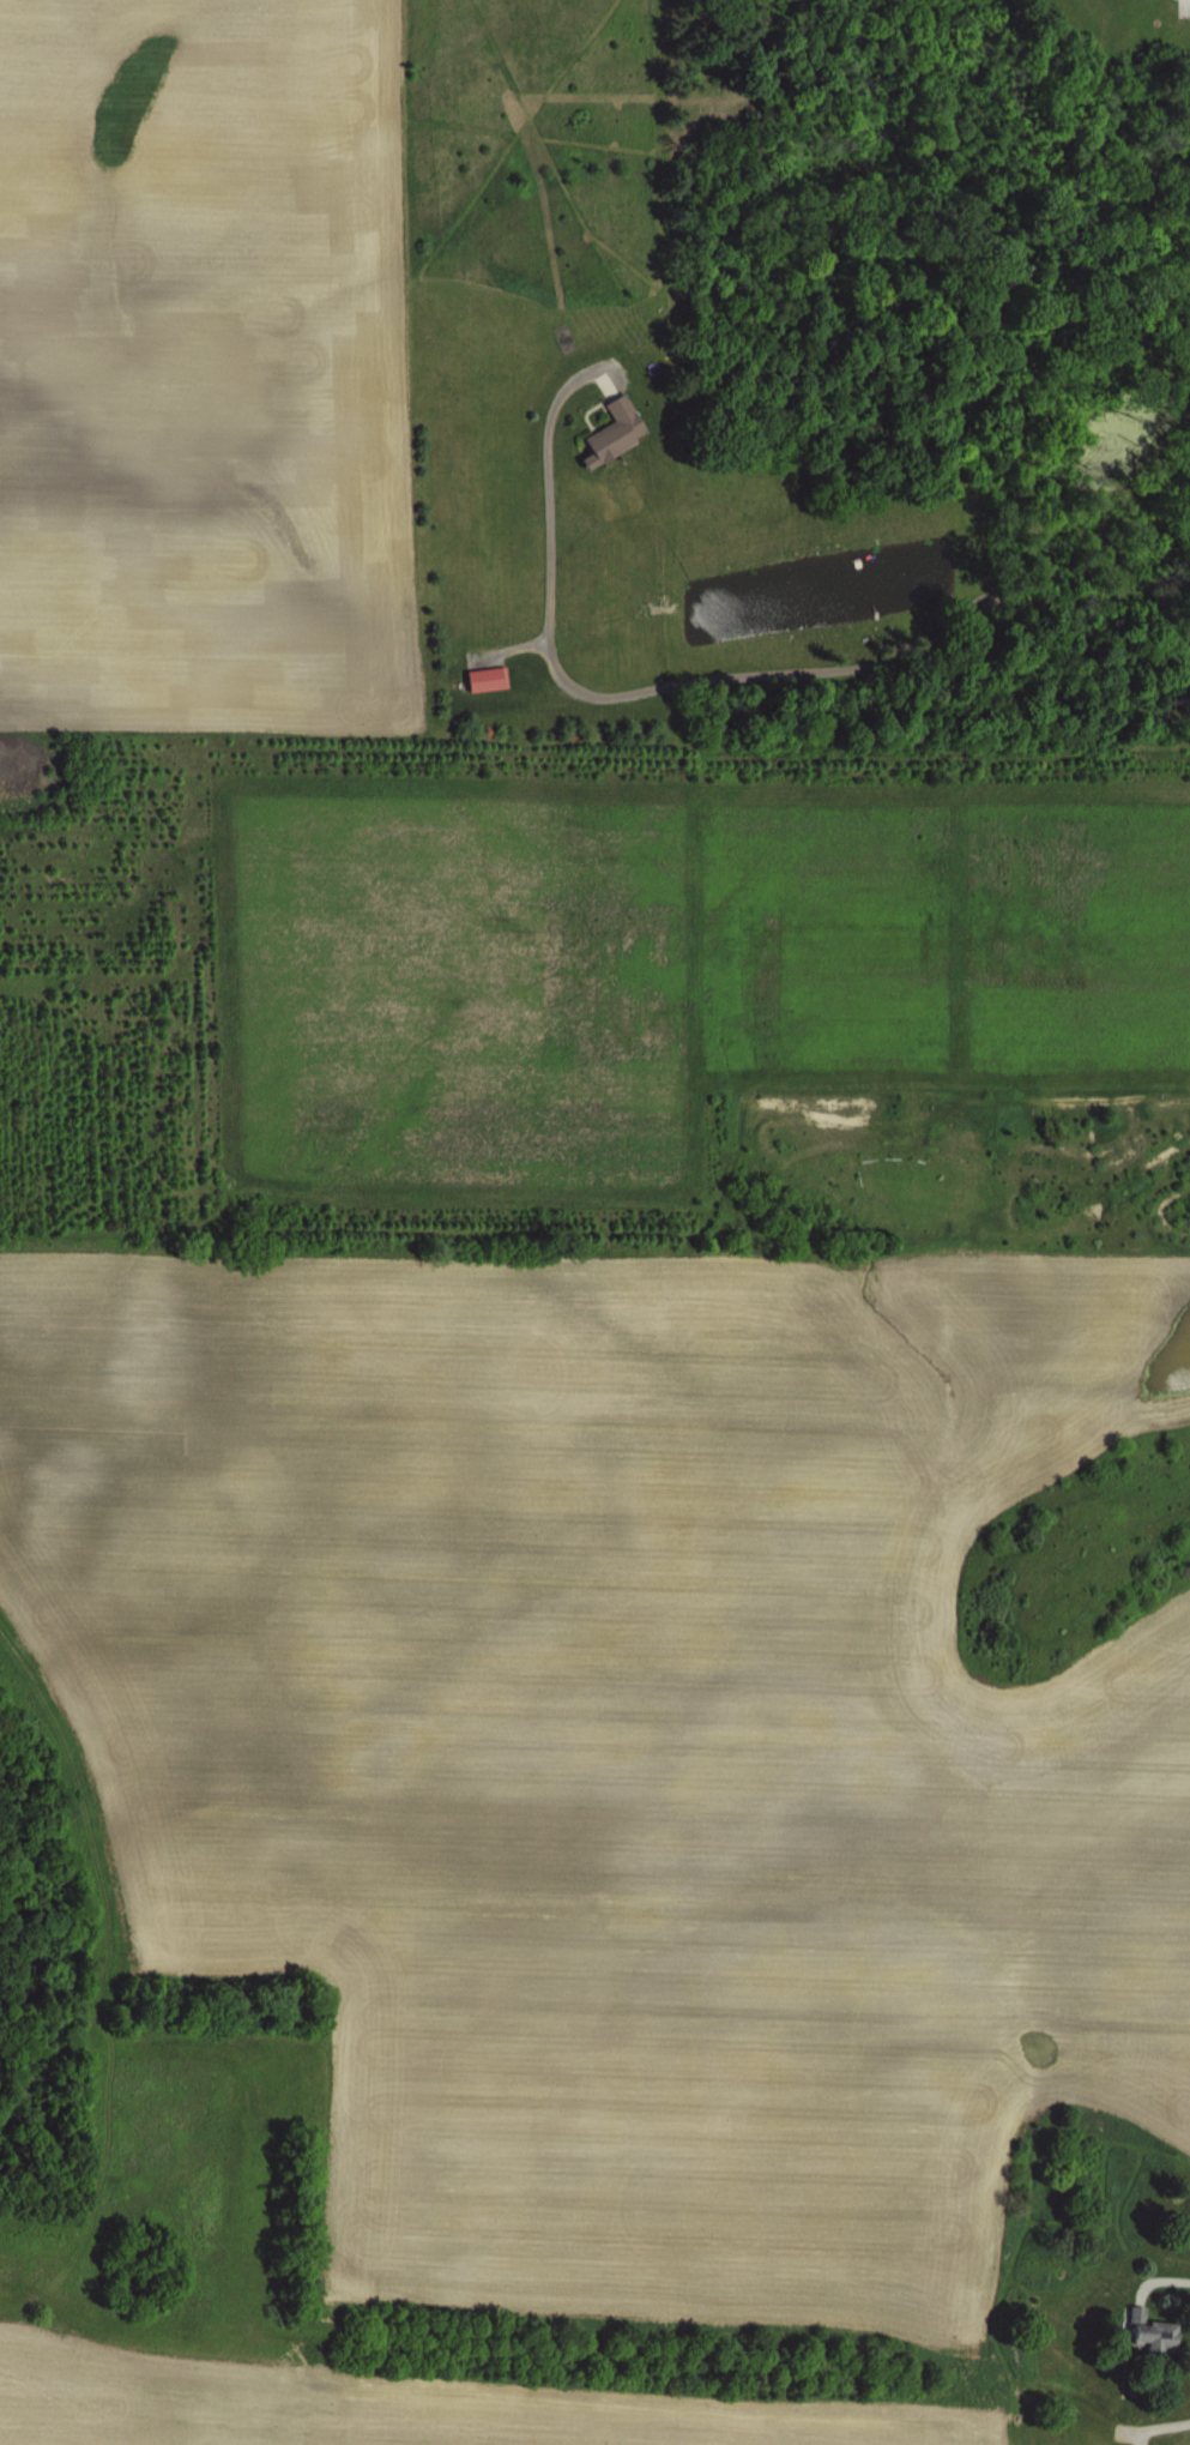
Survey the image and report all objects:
road: (1011, 272)
building: (604, 430)
building: (482, 679)
road: (754, 687)
crop: (594, 1222)
road: (1180, 2281)
building: (1138, 2333)

